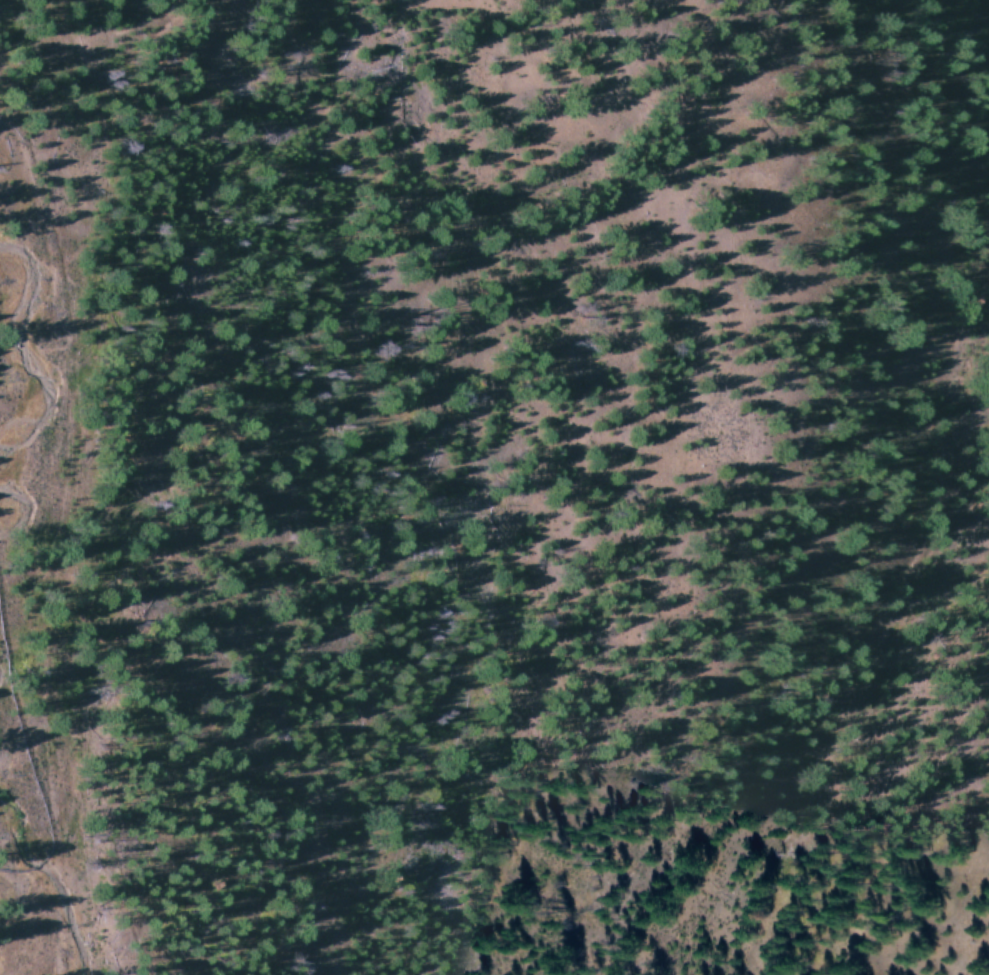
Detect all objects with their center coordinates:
road: (927, 846)

